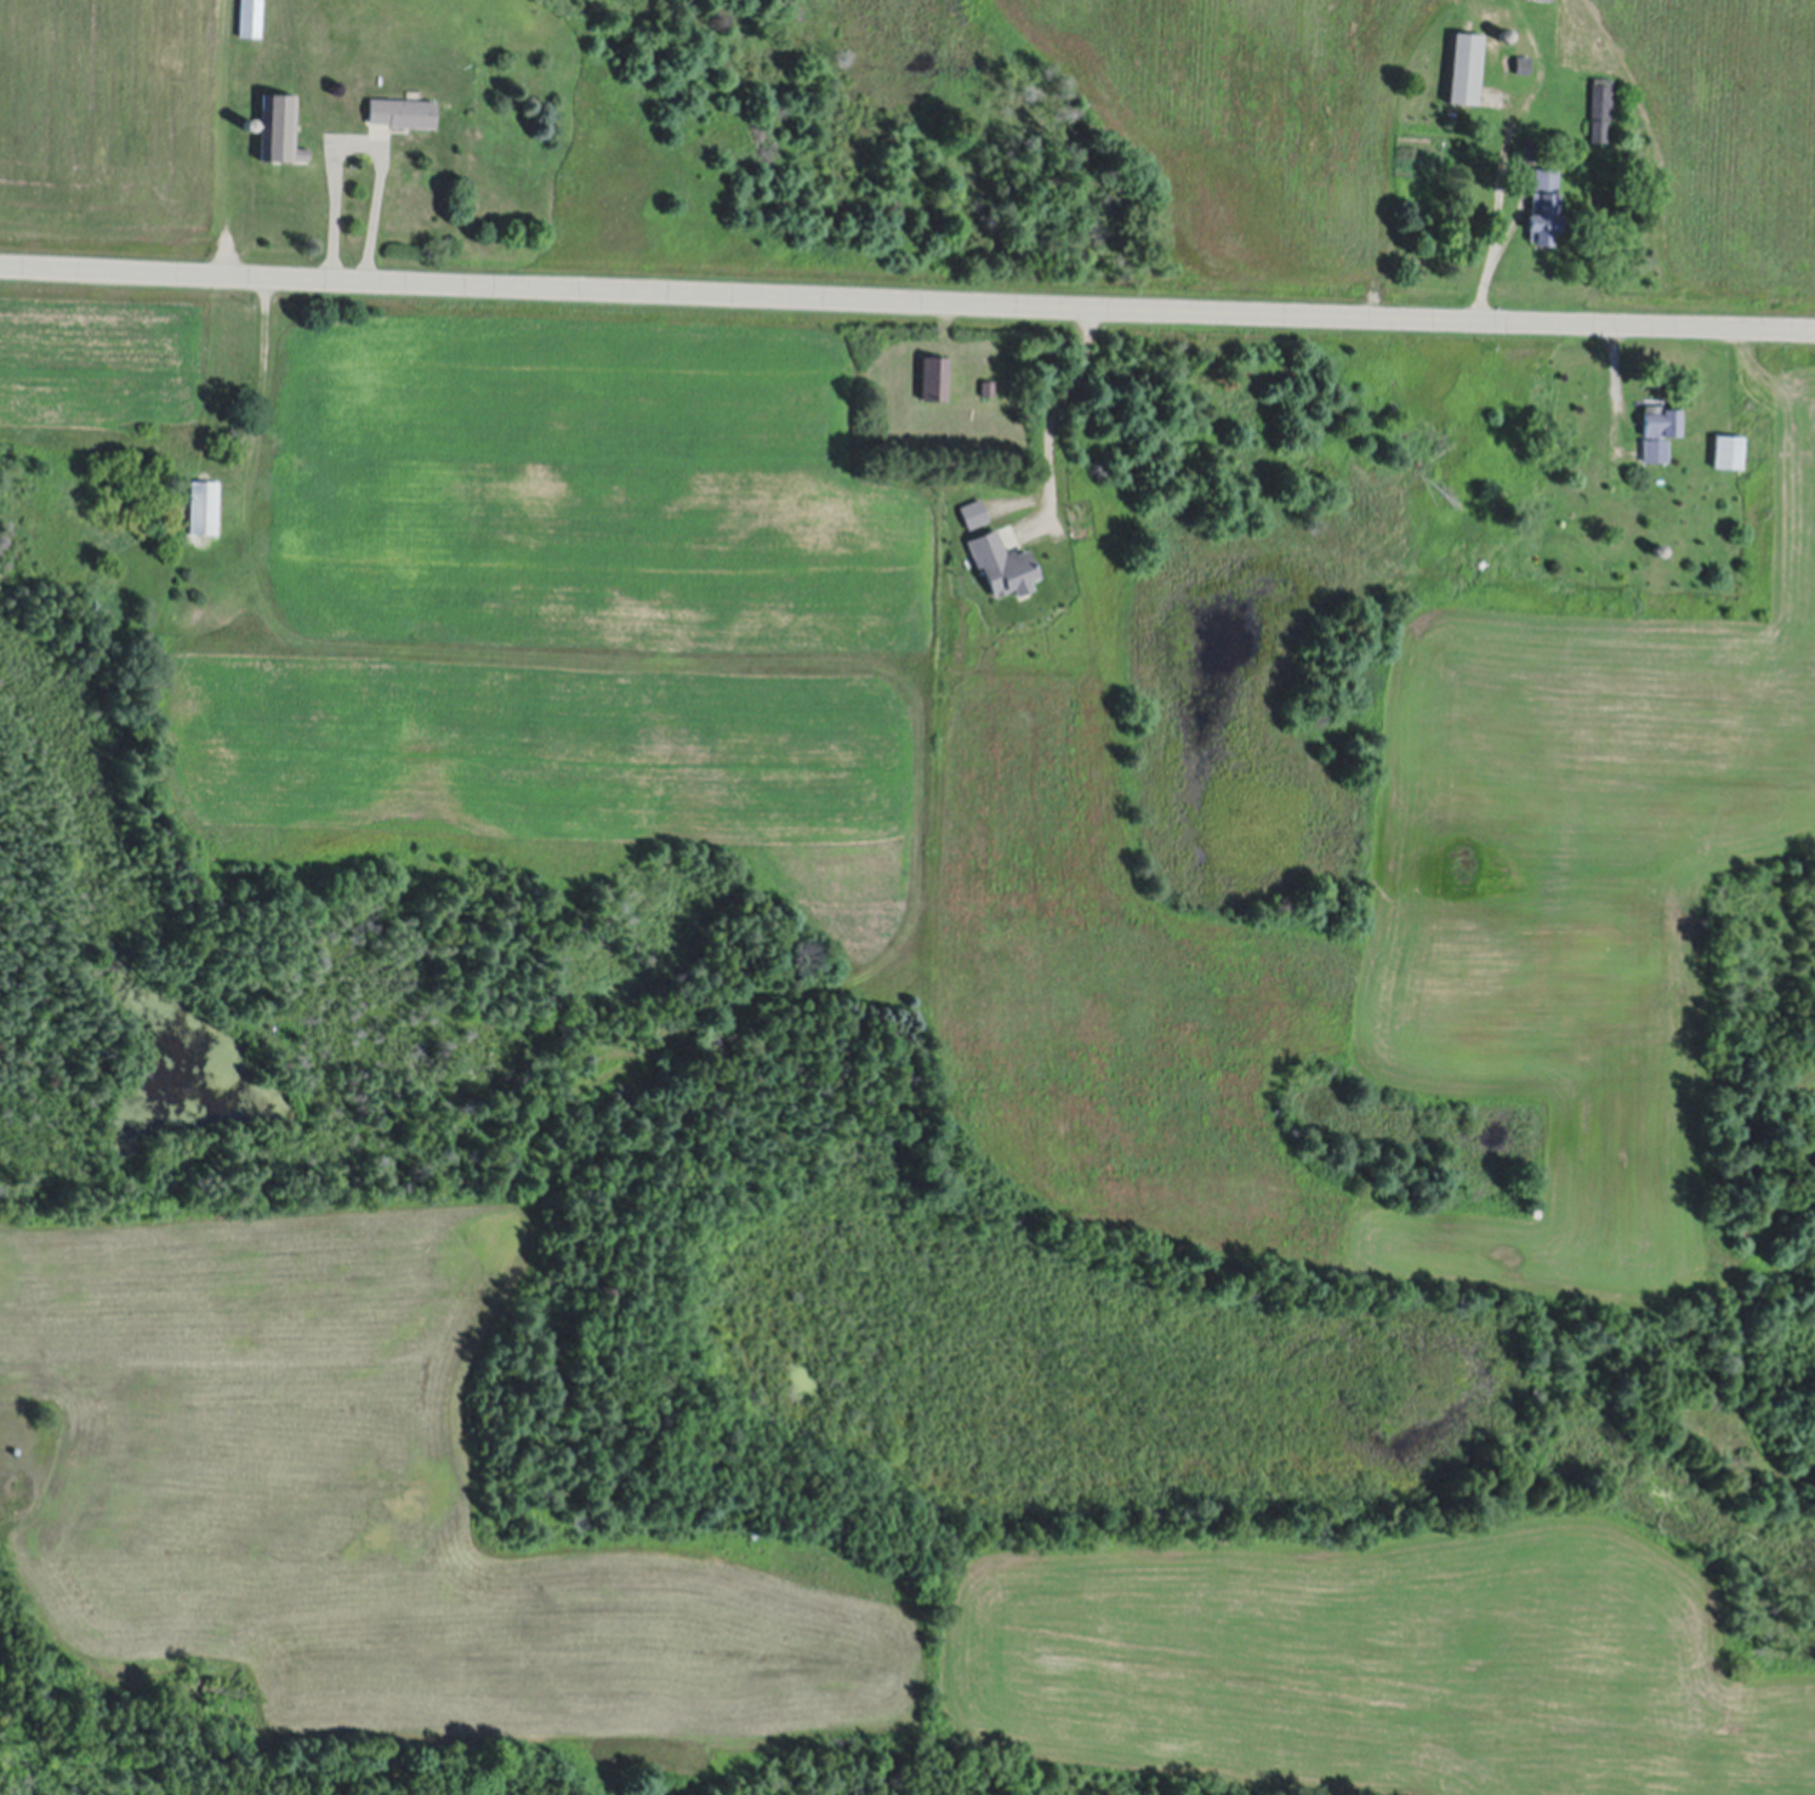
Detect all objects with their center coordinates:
building: (250, 16)
building: (1506, 32)
building: (1524, 63)
building: (1467, 66)
building: (1601, 107)
building: (403, 110)
building: (280, 126)
building: (1530, 147)
building: (1546, 204)
road: (907, 289)
building: (934, 376)
building: (988, 385)
building: (1661, 428)
building: (1729, 448)
building: (204, 504)
building: (973, 513)
building: (1660, 547)
building: (1001, 563)

